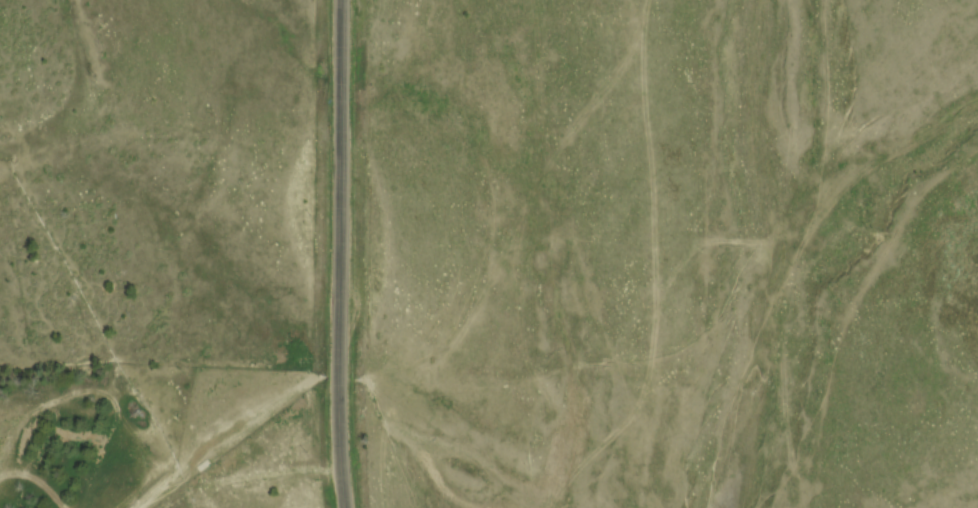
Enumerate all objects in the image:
road: (341, 254)

